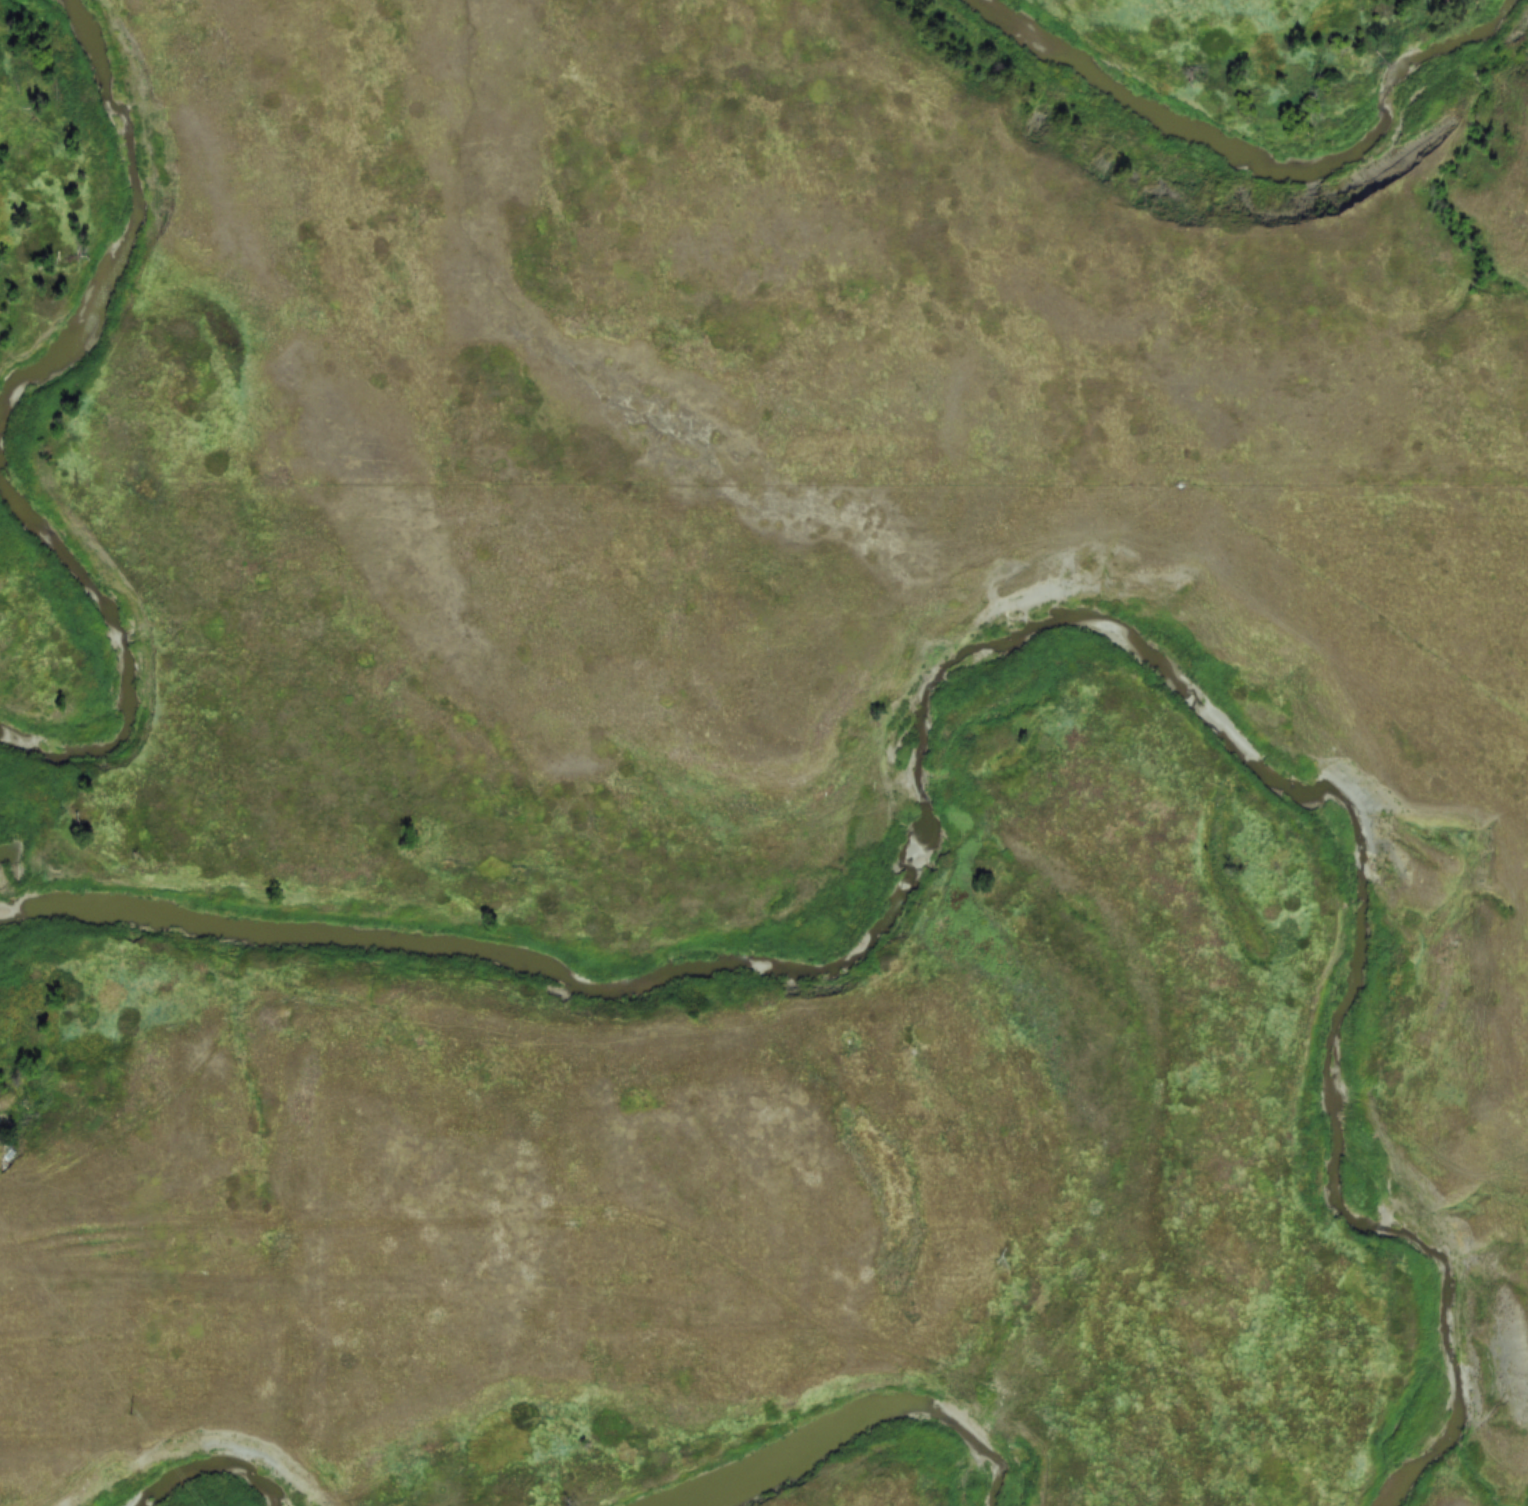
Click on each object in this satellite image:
road: (599, 1151)

